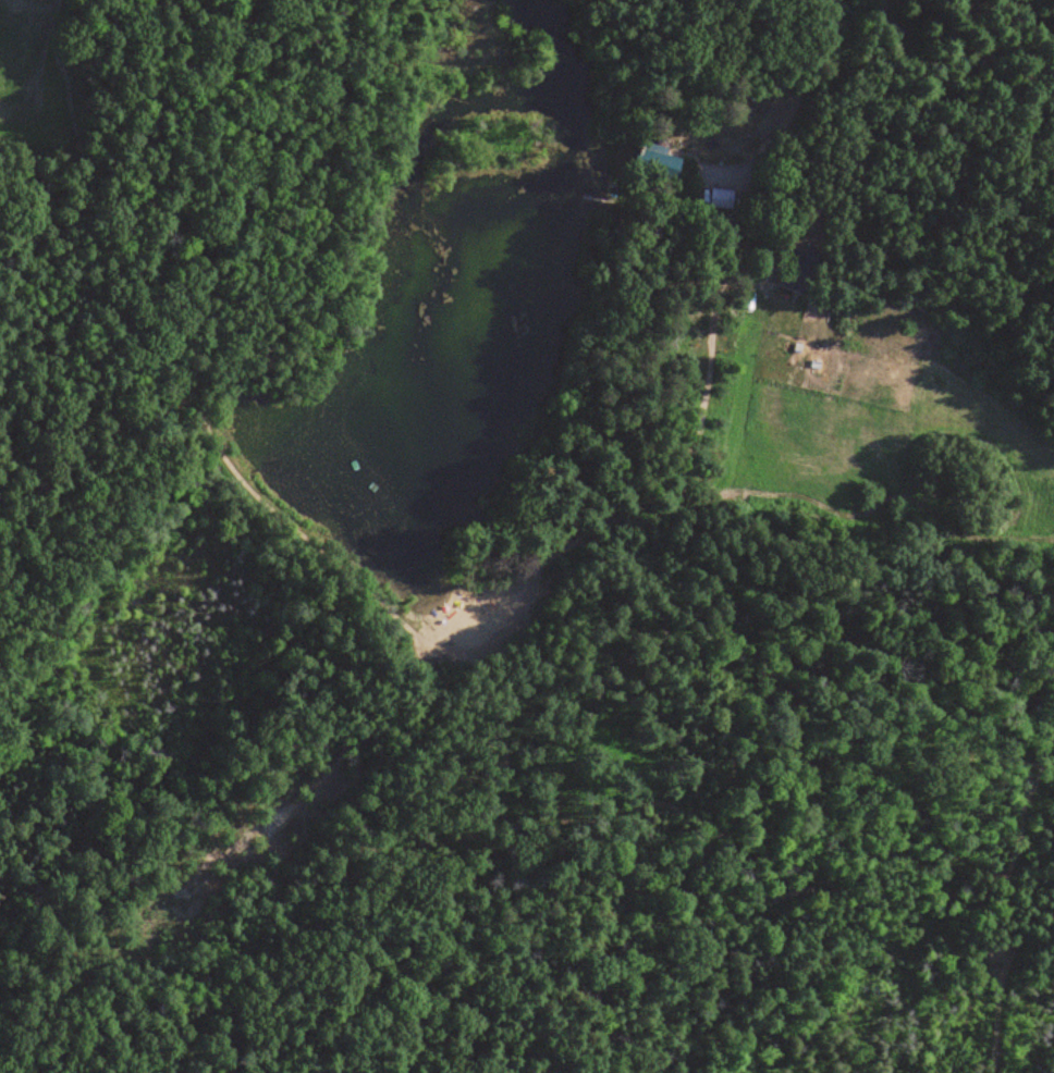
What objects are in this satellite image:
building: (660, 161)
building: (721, 199)
building: (801, 269)

